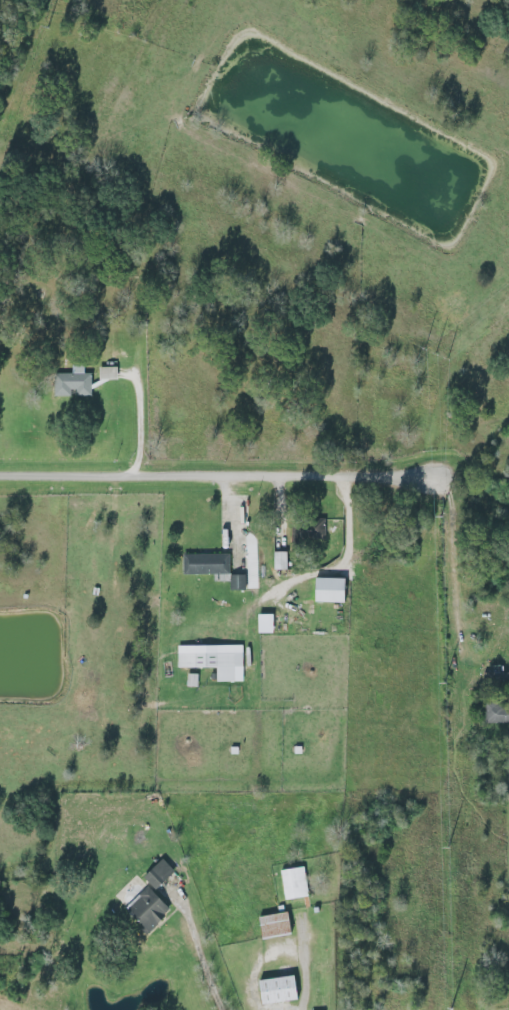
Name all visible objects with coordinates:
power tower: (45, 27)
building: (110, 373)
building: (75, 381)
road: (139, 424)
road: (224, 478)
building: (313, 533)
building: (276, 560)
road: (343, 561)
building: (203, 564)
building: (324, 590)
building: (261, 623)
building: (211, 660)
building: (155, 874)
building: (290, 883)
building: (143, 910)
building: (269, 925)
road: (201, 958)
building: (272, 990)

